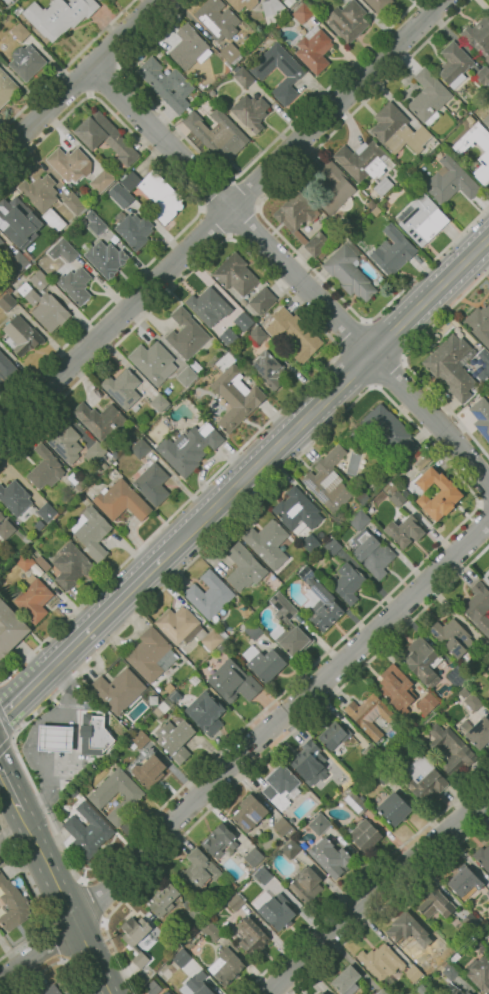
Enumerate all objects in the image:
building: (8, 1)
building: (488, 1)
building: (289, 2)
building: (245, 4)
building: (378, 5)
building: (272, 11)
building: (302, 13)
building: (59, 16)
building: (216, 19)
building: (348, 21)
building: (20, 31)
building: (479, 37)
road: (112, 45)
building: (189, 48)
building: (314, 49)
building: (231, 54)
building: (26, 61)
building: (454, 64)
road: (66, 65)
building: (228, 65)
building: (294, 74)
building: (243, 77)
building: (483, 77)
road: (81, 78)
road: (104, 80)
road: (75, 81)
building: (166, 84)
building: (204, 86)
building: (7, 87)
building: (213, 93)
building: (428, 98)
building: (488, 110)
building: (250, 112)
building: (486, 121)
building: (397, 130)
building: (217, 134)
building: (105, 136)
road: (158, 140)
building: (438, 153)
building: (486, 154)
building: (362, 160)
building: (70, 164)
building: (118, 171)
road: (232, 176)
building: (102, 181)
building: (450, 181)
building: (405, 182)
building: (382, 186)
building: (332, 188)
building: (156, 193)
road: (214, 194)
road: (244, 194)
building: (120, 195)
building: (43, 199)
building: (75, 203)
road: (199, 208)
building: (376, 211)
road: (221, 215)
building: (17, 217)
building: (423, 220)
road: (264, 221)
building: (301, 221)
building: (95, 223)
road: (214, 223)
road: (242, 223)
building: (133, 229)
building: (1, 241)
building: (78, 241)
building: (31, 248)
building: (392, 251)
building: (104, 258)
building: (17, 263)
building: (349, 271)
building: (72, 273)
building: (238, 275)
building: (40, 280)
building: (9, 290)
building: (488, 298)
building: (262, 300)
building: (7, 302)
building: (208, 306)
building: (45, 308)
road: (444, 314)
building: (243, 320)
building: (479, 324)
building: (186, 333)
building: (21, 335)
building: (257, 336)
building: (294, 336)
road: (353, 336)
building: (230, 337)
road: (387, 338)
road: (360, 344)
road: (337, 349)
building: (153, 362)
building: (450, 366)
building: (6, 367)
building: (196, 367)
building: (268, 370)
road: (353, 371)
road: (389, 374)
building: (187, 376)
building: (122, 388)
road: (328, 396)
building: (236, 397)
building: (160, 403)
road: (446, 407)
building: (136, 408)
building: (481, 417)
building: (100, 420)
building: (397, 434)
building: (64, 440)
building: (141, 448)
building: (189, 448)
building: (228, 448)
building: (95, 453)
building: (115, 454)
building: (424, 462)
building: (114, 463)
building: (104, 465)
building: (45, 468)
building: (113, 474)
building: (76, 481)
building: (151, 482)
building: (335, 483)
building: (436, 493)
road: (483, 499)
building: (16, 500)
building: (121, 500)
building: (396, 500)
building: (296, 511)
road: (483, 511)
building: (47, 512)
building: (360, 520)
building: (5, 528)
building: (92, 531)
building: (404, 531)
building: (26, 539)
building: (269, 543)
building: (310, 543)
building: (333, 546)
building: (370, 552)
building: (25, 561)
building: (43, 562)
building: (71, 565)
building: (244, 567)
building: (486, 577)
building: (348, 583)
building: (209, 595)
building: (33, 599)
building: (320, 601)
building: (478, 607)
building: (283, 608)
building: (250, 618)
building: (186, 628)
building: (10, 629)
building: (254, 630)
road: (83, 635)
building: (452, 637)
building: (292, 639)
building: (221, 649)
building: (151, 655)
building: (422, 661)
building: (266, 664)
building: (488, 674)
building: (456, 676)
building: (194, 680)
building: (233, 682)
building: (396, 688)
building: (118, 690)
building: (174, 695)
building: (488, 700)
building: (473, 702)
building: (427, 703)
building: (162, 708)
building: (206, 712)
building: (369, 714)
road: (7, 722)
building: (479, 733)
building: (94, 734)
building: (413, 735)
building: (335, 736)
building: (54, 738)
gas station: (54, 738)
building: (140, 738)
building: (175, 739)
building: (451, 748)
road: (245, 752)
road: (265, 756)
building: (307, 759)
road: (19, 760)
building: (147, 769)
building: (383, 775)
building: (347, 777)
building: (423, 777)
building: (281, 787)
road: (11, 788)
building: (73, 792)
building: (127, 803)
building: (355, 803)
building: (394, 808)
building: (249, 813)
building: (319, 824)
building: (283, 826)
building: (88, 832)
building: (364, 835)
building: (220, 841)
building: (290, 849)
building: (254, 857)
building: (330, 857)
building: (483, 857)
building: (198, 871)
building: (263, 875)
road: (363, 878)
building: (464, 882)
building: (306, 884)
building: (232, 886)
road: (381, 892)
building: (488, 892)
road: (36, 899)
road: (93, 900)
building: (163, 900)
building: (235, 902)
road: (65, 903)
road: (388, 903)
building: (435, 904)
building: (11, 906)
building: (194, 909)
building: (277, 911)
building: (470, 921)
building: (210, 931)
building: (416, 933)
building: (252, 935)
building: (135, 939)
road: (52, 944)
building: (481, 947)
building: (181, 957)
building: (382, 962)
road: (51, 966)
building: (226, 966)
building: (413, 972)
building: (451, 972)
building: (479, 973)
building: (347, 980)
building: (199, 984)
building: (153, 988)
building: (51, 990)
building: (166, 992)
building: (67, 993)
building: (321, 993)
building: (468, 993)

